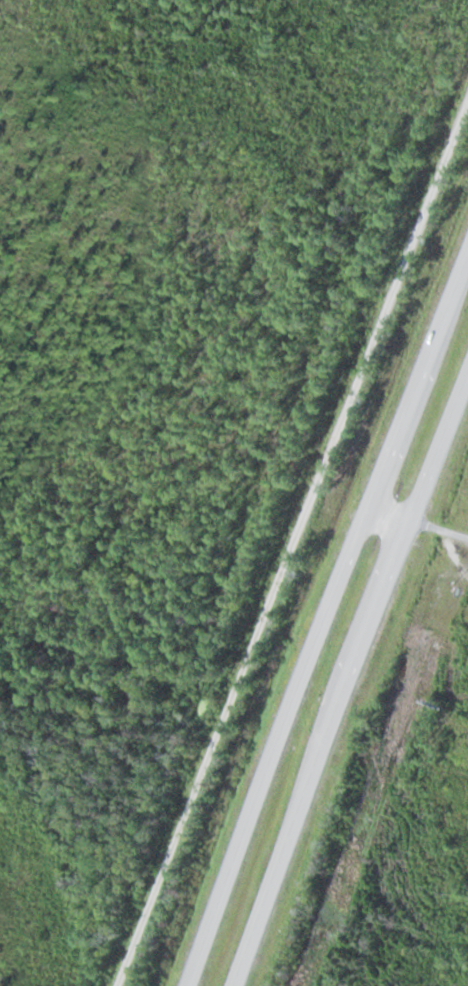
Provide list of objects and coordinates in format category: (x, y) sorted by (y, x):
road: (422, 525)
road: (292, 544)
road: (292, 544)
road: (330, 629)
road: (355, 685)

